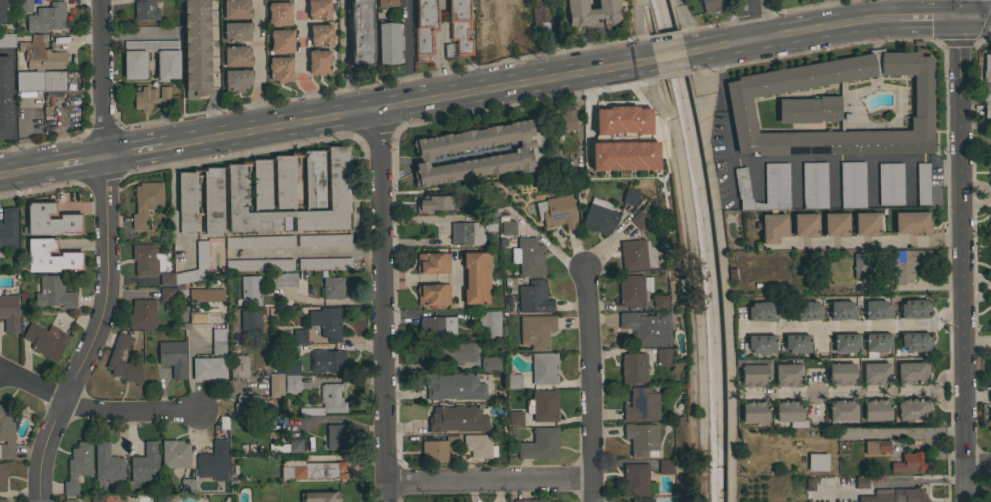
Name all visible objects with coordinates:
building: (387, 3)
building: (711, 5)
building: (25, 6)
building: (237, 9)
building: (319, 9)
road: (981, 9)
building: (146, 10)
building: (6, 11)
building: (591, 12)
building: (279, 13)
building: (541, 13)
road: (827, 15)
building: (47, 16)
road: (646, 16)
road: (636, 17)
traffic signals: (960, 19)
road: (971, 19)
road: (986, 19)
road: (929, 20)
road: (749, 21)
building: (516, 23)
building: (460, 26)
building: (486, 27)
building: (424, 28)
building: (238, 31)
building: (360, 32)
building: (321, 35)
road: (797, 35)
road: (137, 36)
building: (7, 40)
building: (282, 41)
building: (299, 42)
building: (388, 42)
building: (196, 48)
road: (406, 53)
building: (39, 55)
building: (237, 56)
road: (670, 56)
building: (319, 62)
road: (299, 63)
building: (135, 66)
road: (257, 66)
building: (987, 67)
building: (280, 69)
building: (237, 78)
building: (47, 82)
road: (647, 90)
building: (986, 90)
building: (164, 92)
building: (5, 98)
building: (145, 98)
road: (12, 107)
building: (740, 107)
road: (402, 108)
building: (987, 108)
building: (807, 109)
road: (587, 113)
building: (623, 119)
building: (563, 122)
road: (725, 125)
building: (990, 137)
building: (516, 153)
road: (132, 155)
building: (624, 155)
road: (78, 164)
building: (554, 165)
road: (26, 172)
building: (990, 176)
building: (314, 178)
building: (285, 181)
building: (262, 183)
building: (921, 183)
building: (889, 184)
building: (813, 185)
building: (851, 185)
building: (338, 186)
building: (560, 186)
building: (763, 188)
road: (989, 192)
road: (990, 192)
building: (630, 196)
road: (174, 200)
building: (187, 200)
building: (213, 200)
building: (146, 202)
building: (434, 204)
building: (555, 212)
building: (599, 216)
building: (989, 217)
building: (51, 219)
building: (639, 219)
building: (488, 222)
building: (911, 223)
building: (834, 224)
building: (865, 224)
building: (804, 225)
building: (8, 227)
building: (507, 227)
building: (772, 228)
building: (465, 233)
building: (324, 240)
road: (964, 241)
building: (259, 242)
road: (873, 242)
road: (311, 252)
building: (199, 255)
building: (636, 255)
building: (51, 256)
building: (528, 256)
road: (104, 257)
building: (143, 260)
building: (15, 262)
building: (324, 263)
building: (432, 263)
building: (259, 264)
building: (906, 264)
building: (989, 264)
building: (860, 265)
road: (453, 271)
building: (166, 278)
road: (419, 278)
building: (475, 278)
building: (283, 280)
road: (978, 286)
building: (333, 287)
road: (688, 288)
building: (250, 290)
building: (631, 290)
building: (54, 292)
building: (167, 293)
building: (433, 294)
building: (205, 295)
building: (534, 297)
building: (660, 302)
road: (385, 307)
building: (915, 308)
building: (843, 309)
building: (877, 309)
building: (808, 310)
building: (989, 310)
building: (761, 311)
building: (9, 313)
building: (142, 314)
building: (204, 317)
building: (250, 319)
building: (327, 322)
building: (490, 323)
road: (854, 325)
building: (436, 328)
building: (647, 328)
building: (536, 330)
building: (217, 335)
building: (299, 335)
building: (46, 340)
building: (915, 341)
building: (846, 342)
building: (761, 343)
building: (797, 343)
building: (875, 343)
building: (217, 348)
building: (291, 350)
building: (454, 352)
building: (663, 355)
building: (173, 357)
building: (327, 360)
building: (123, 361)
building: (491, 363)
building: (239, 366)
building: (209, 367)
building: (290, 367)
building: (633, 367)
building: (542, 369)
road: (189, 371)
building: (912, 372)
building: (876, 373)
building: (841, 374)
building: (753, 375)
building: (788, 375)
building: (990, 376)
building: (513, 382)
building: (291, 383)
road: (31, 385)
building: (276, 385)
road: (587, 385)
building: (454, 386)
road: (933, 391)
road: (835, 392)
building: (989, 395)
building: (327, 401)
building: (247, 404)
building: (641, 404)
building: (543, 405)
building: (875, 409)
building: (911, 409)
building: (841, 410)
road: (128, 411)
building: (754, 411)
building: (787, 411)
building: (457, 418)
building: (515, 418)
building: (989, 418)
road: (904, 430)
building: (6, 435)
building: (336, 437)
building: (642, 439)
building: (540, 444)
building: (293, 445)
building: (480, 445)
building: (876, 446)
building: (434, 451)
building: (175, 454)
building: (214, 461)
building: (817, 461)
building: (145, 462)
building: (910, 462)
road: (979, 463)
building: (107, 465)
building: (78, 466)
building: (665, 466)
building: (313, 470)
building: (2, 475)
building: (635, 479)
road: (488, 482)
building: (861, 482)
road: (968, 483)
building: (807, 484)
building: (187, 485)
building: (883, 495)
building: (911, 495)
building: (319, 496)
building: (96, 498)
building: (162, 498)
building: (3, 500)
building: (532, 500)
building: (641, 500)
building: (69, 501)

